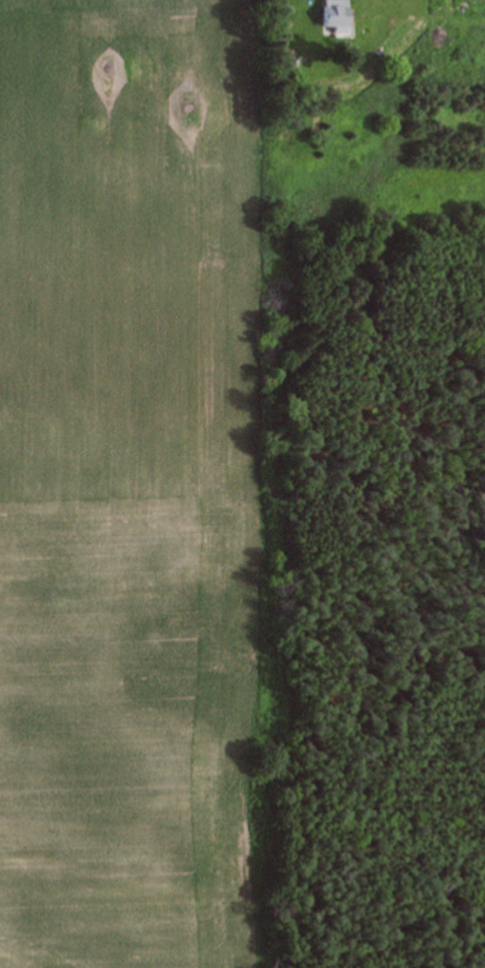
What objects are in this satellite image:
building: (333, 15)

